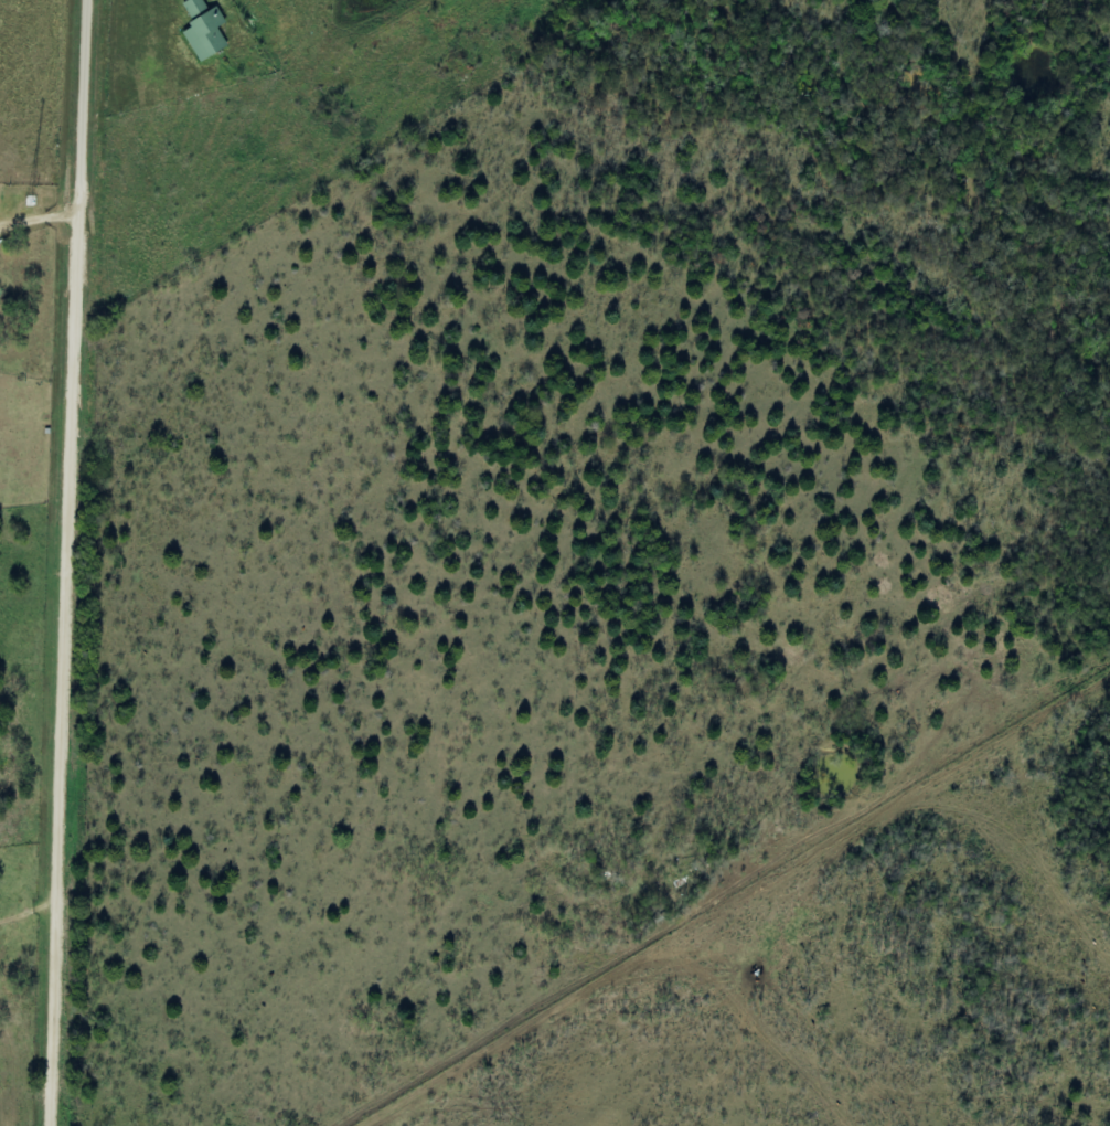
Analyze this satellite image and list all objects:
building: (195, 7)
building: (206, 35)
road: (74, 562)

